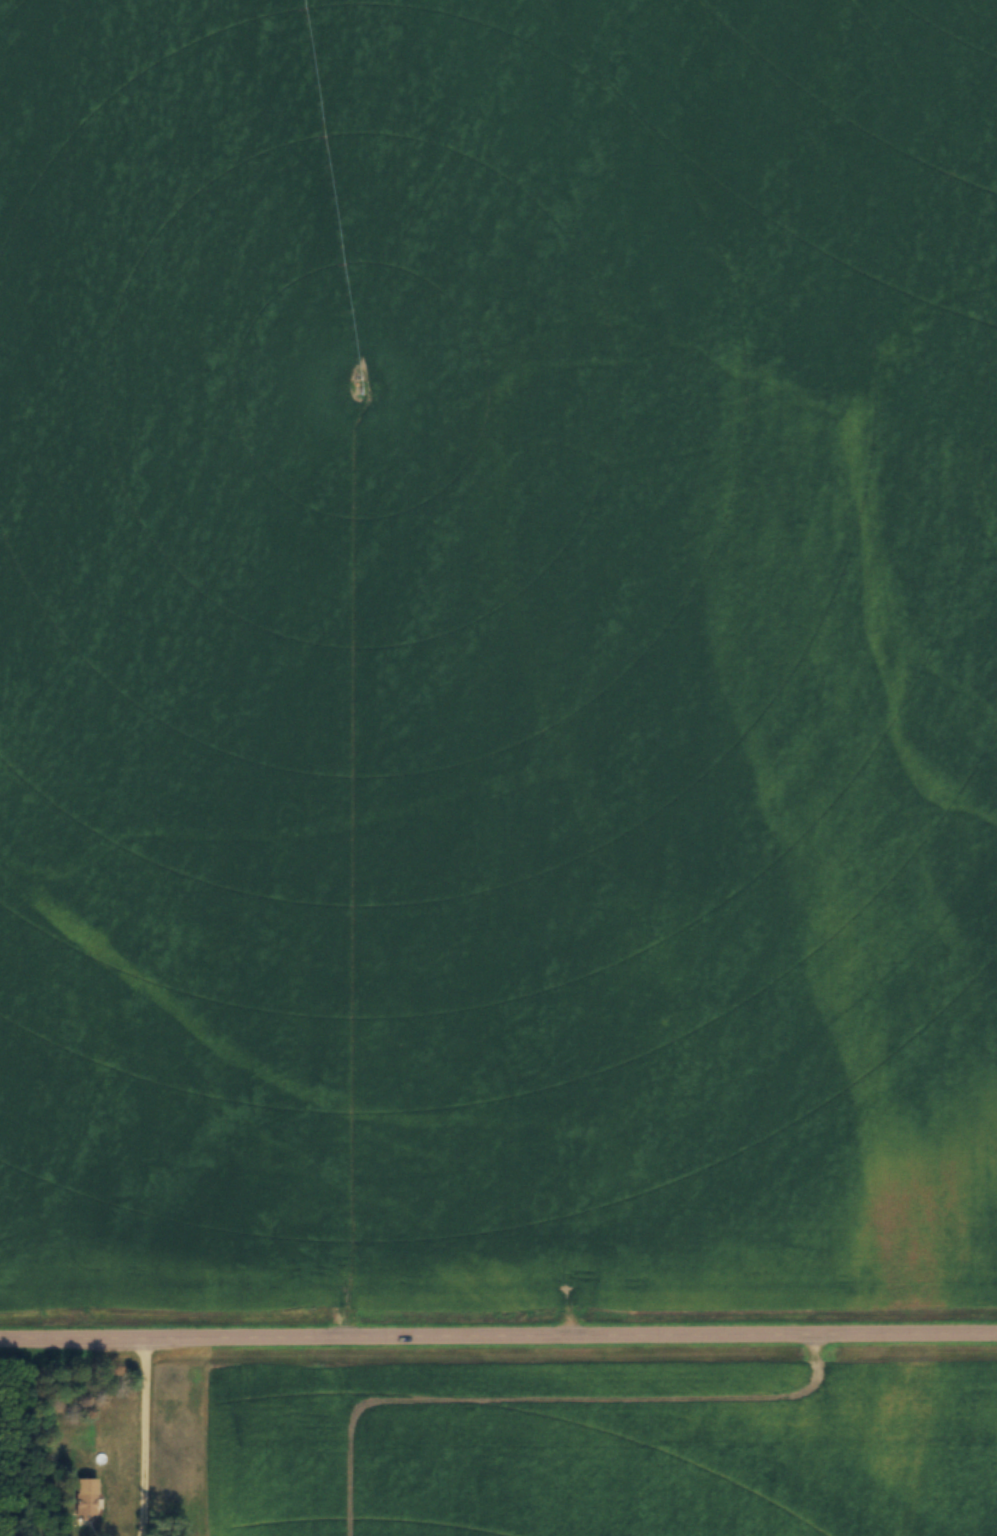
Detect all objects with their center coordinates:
road: (498, 1338)
road: (149, 1438)
building: (85, 1494)

